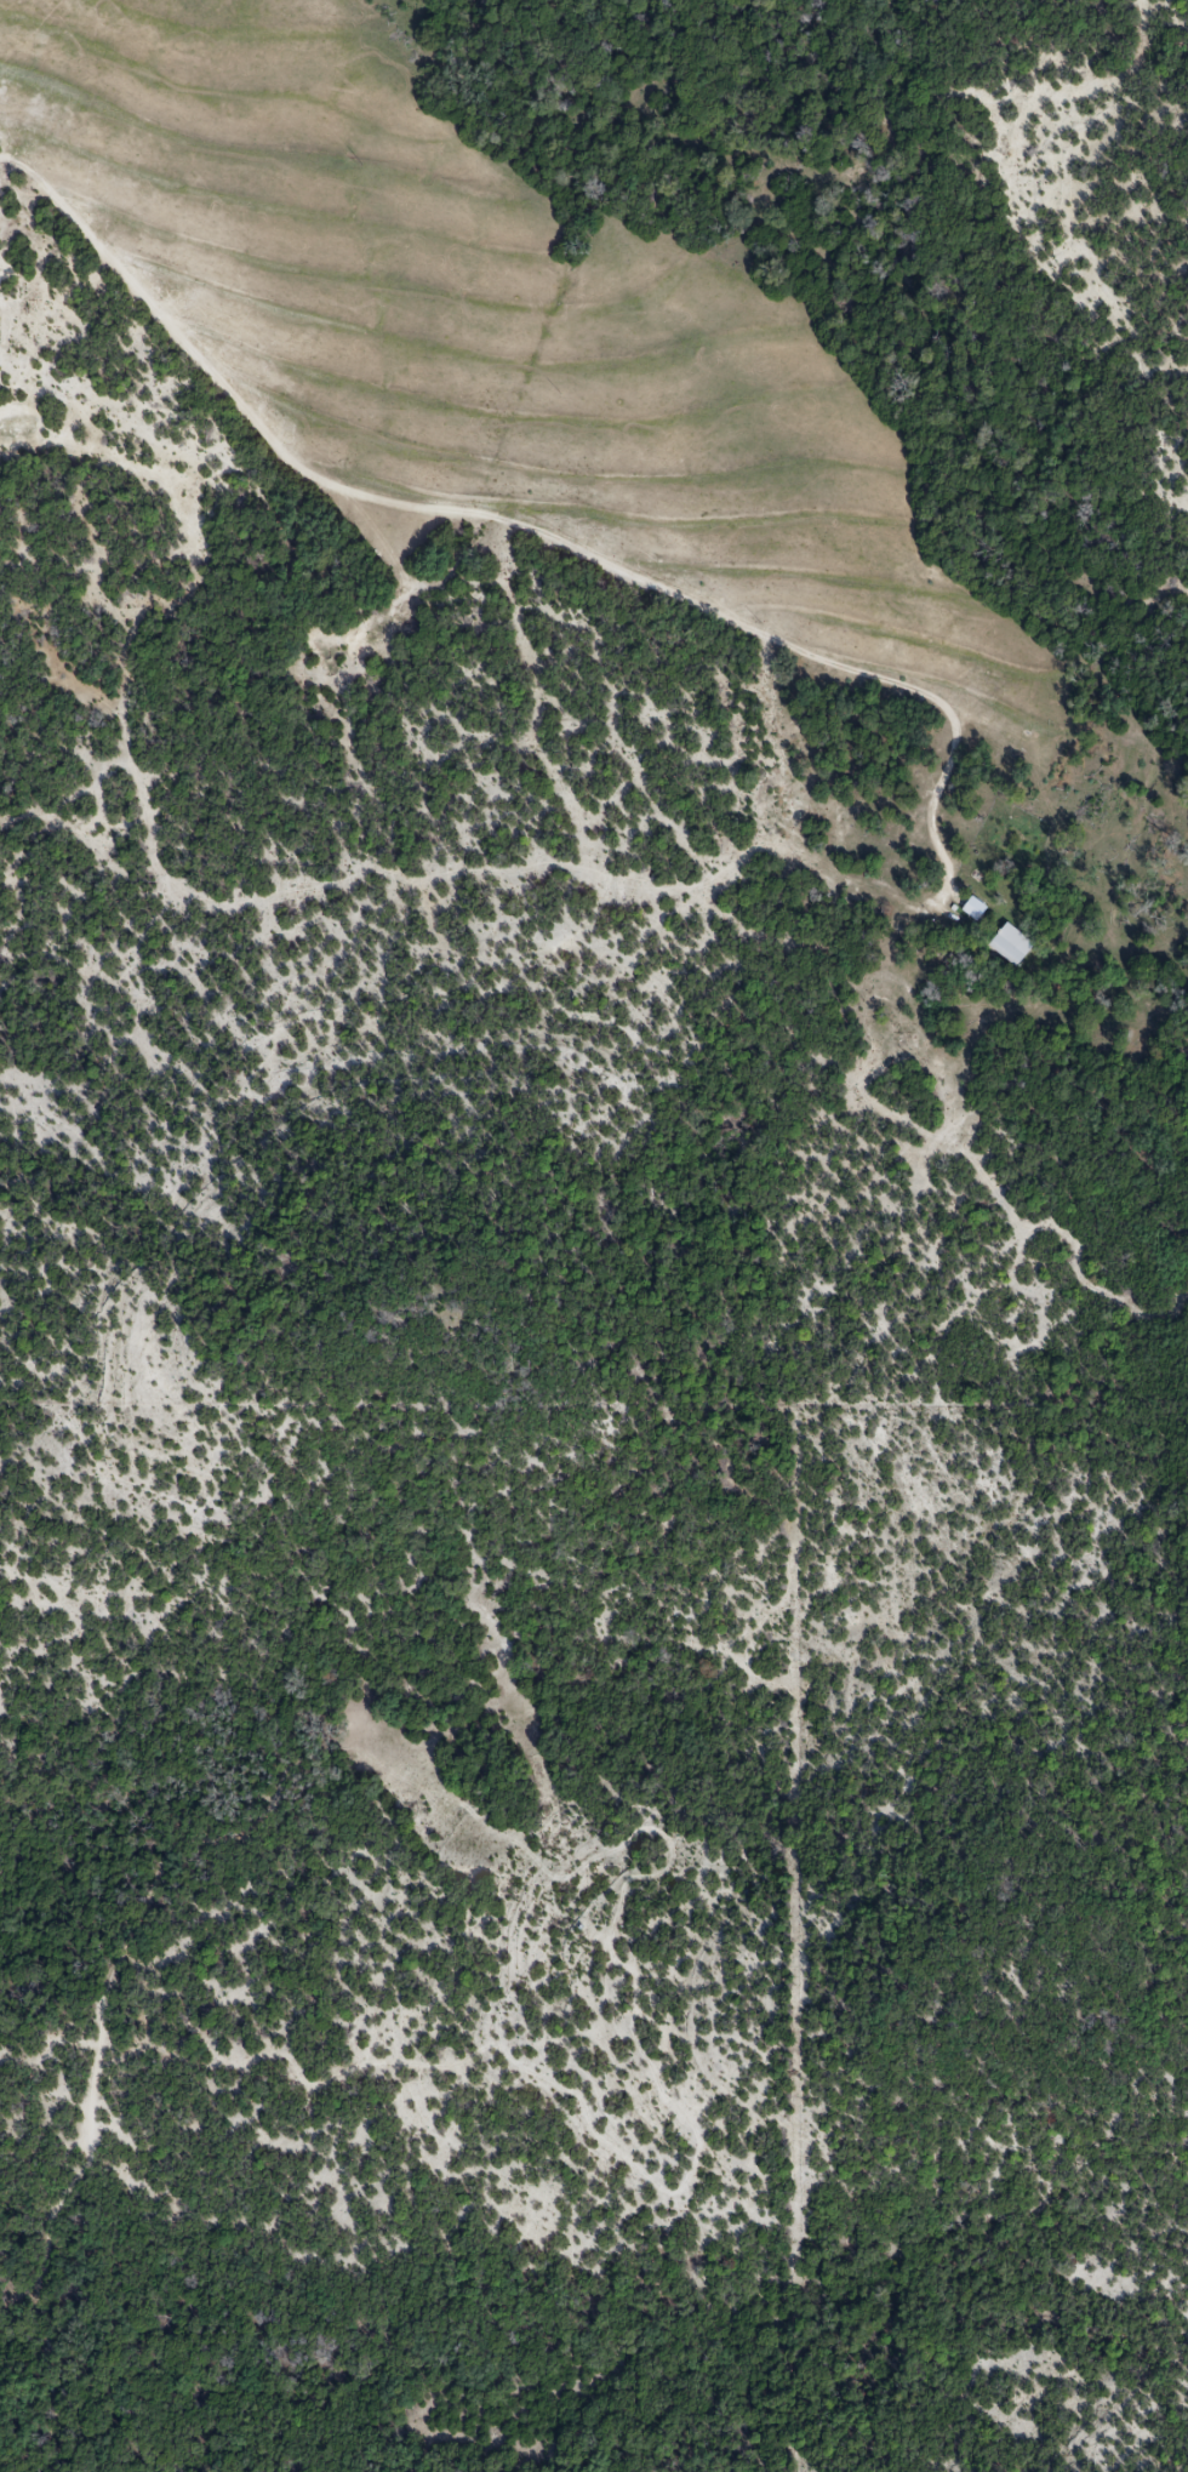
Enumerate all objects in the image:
building: (973, 908)
building: (1010, 944)

